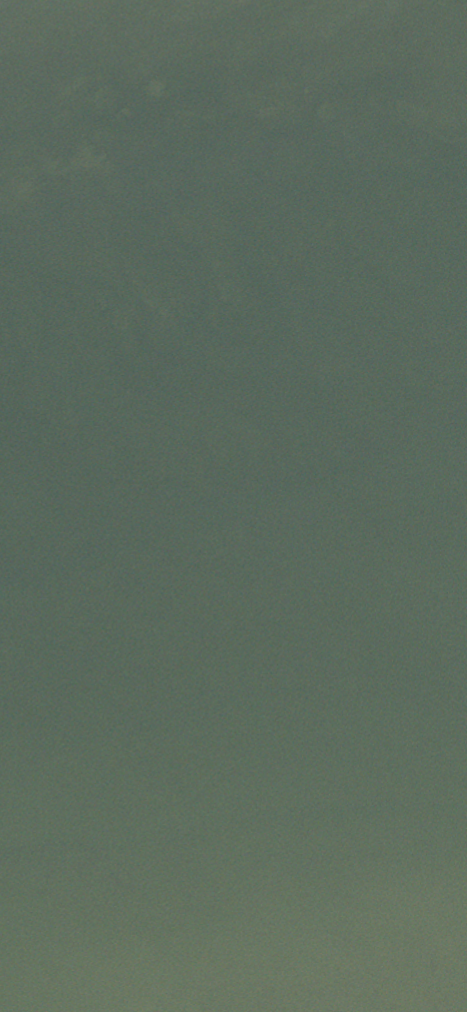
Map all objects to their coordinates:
river: (233, 546)

